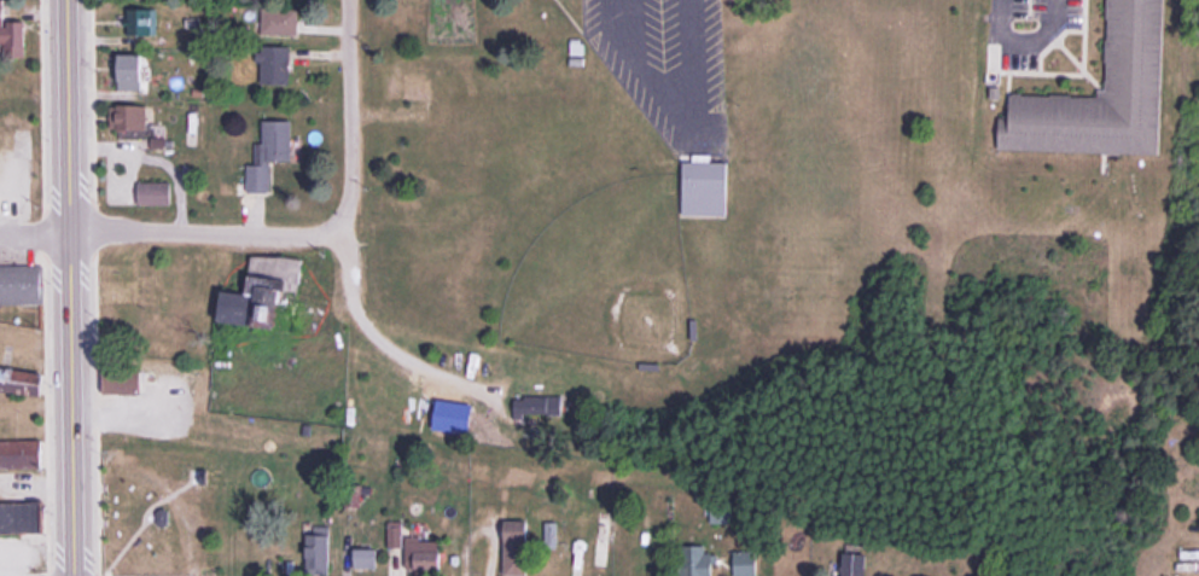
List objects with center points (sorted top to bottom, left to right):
building: (279, 21)
building: (7, 25)
building: (146, 27)
building: (1134, 46)
building: (275, 63)
building: (132, 70)
building: (419, 77)
road: (353, 115)
building: (128, 118)
building: (192, 122)
building: (270, 152)
building: (705, 185)
building: (153, 192)
road: (169, 232)
park: (610, 274)
building: (22, 286)
road: (76, 287)
building: (254, 309)
building: (21, 371)
building: (122, 380)
building: (537, 406)
building: (19, 453)
building: (18, 517)
building: (606, 542)
building: (518, 548)
building: (319, 551)
building: (418, 551)
building: (366, 559)
building: (698, 560)
building: (852, 562)
building: (745, 564)

